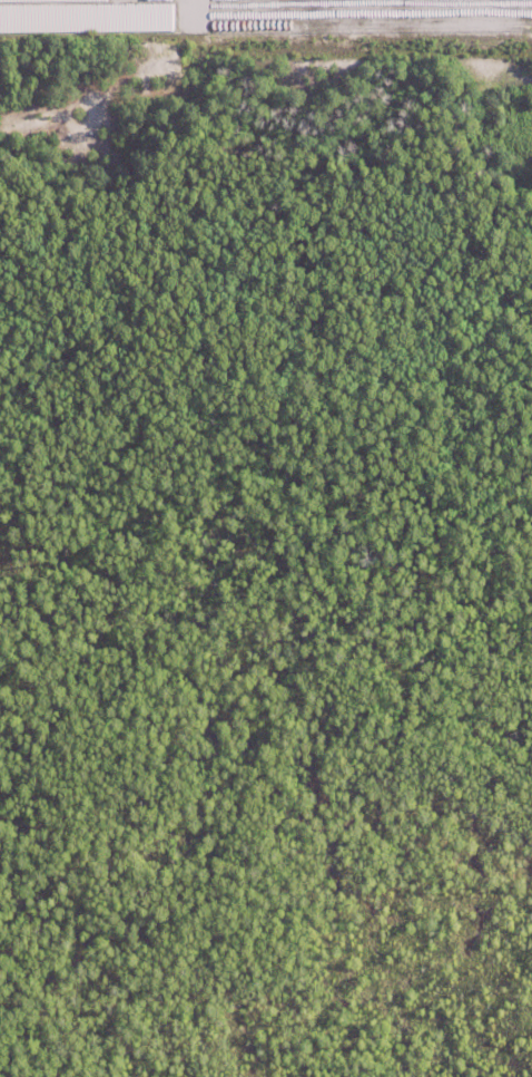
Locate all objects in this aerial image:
road: (189, 10)
building: (82, 16)

